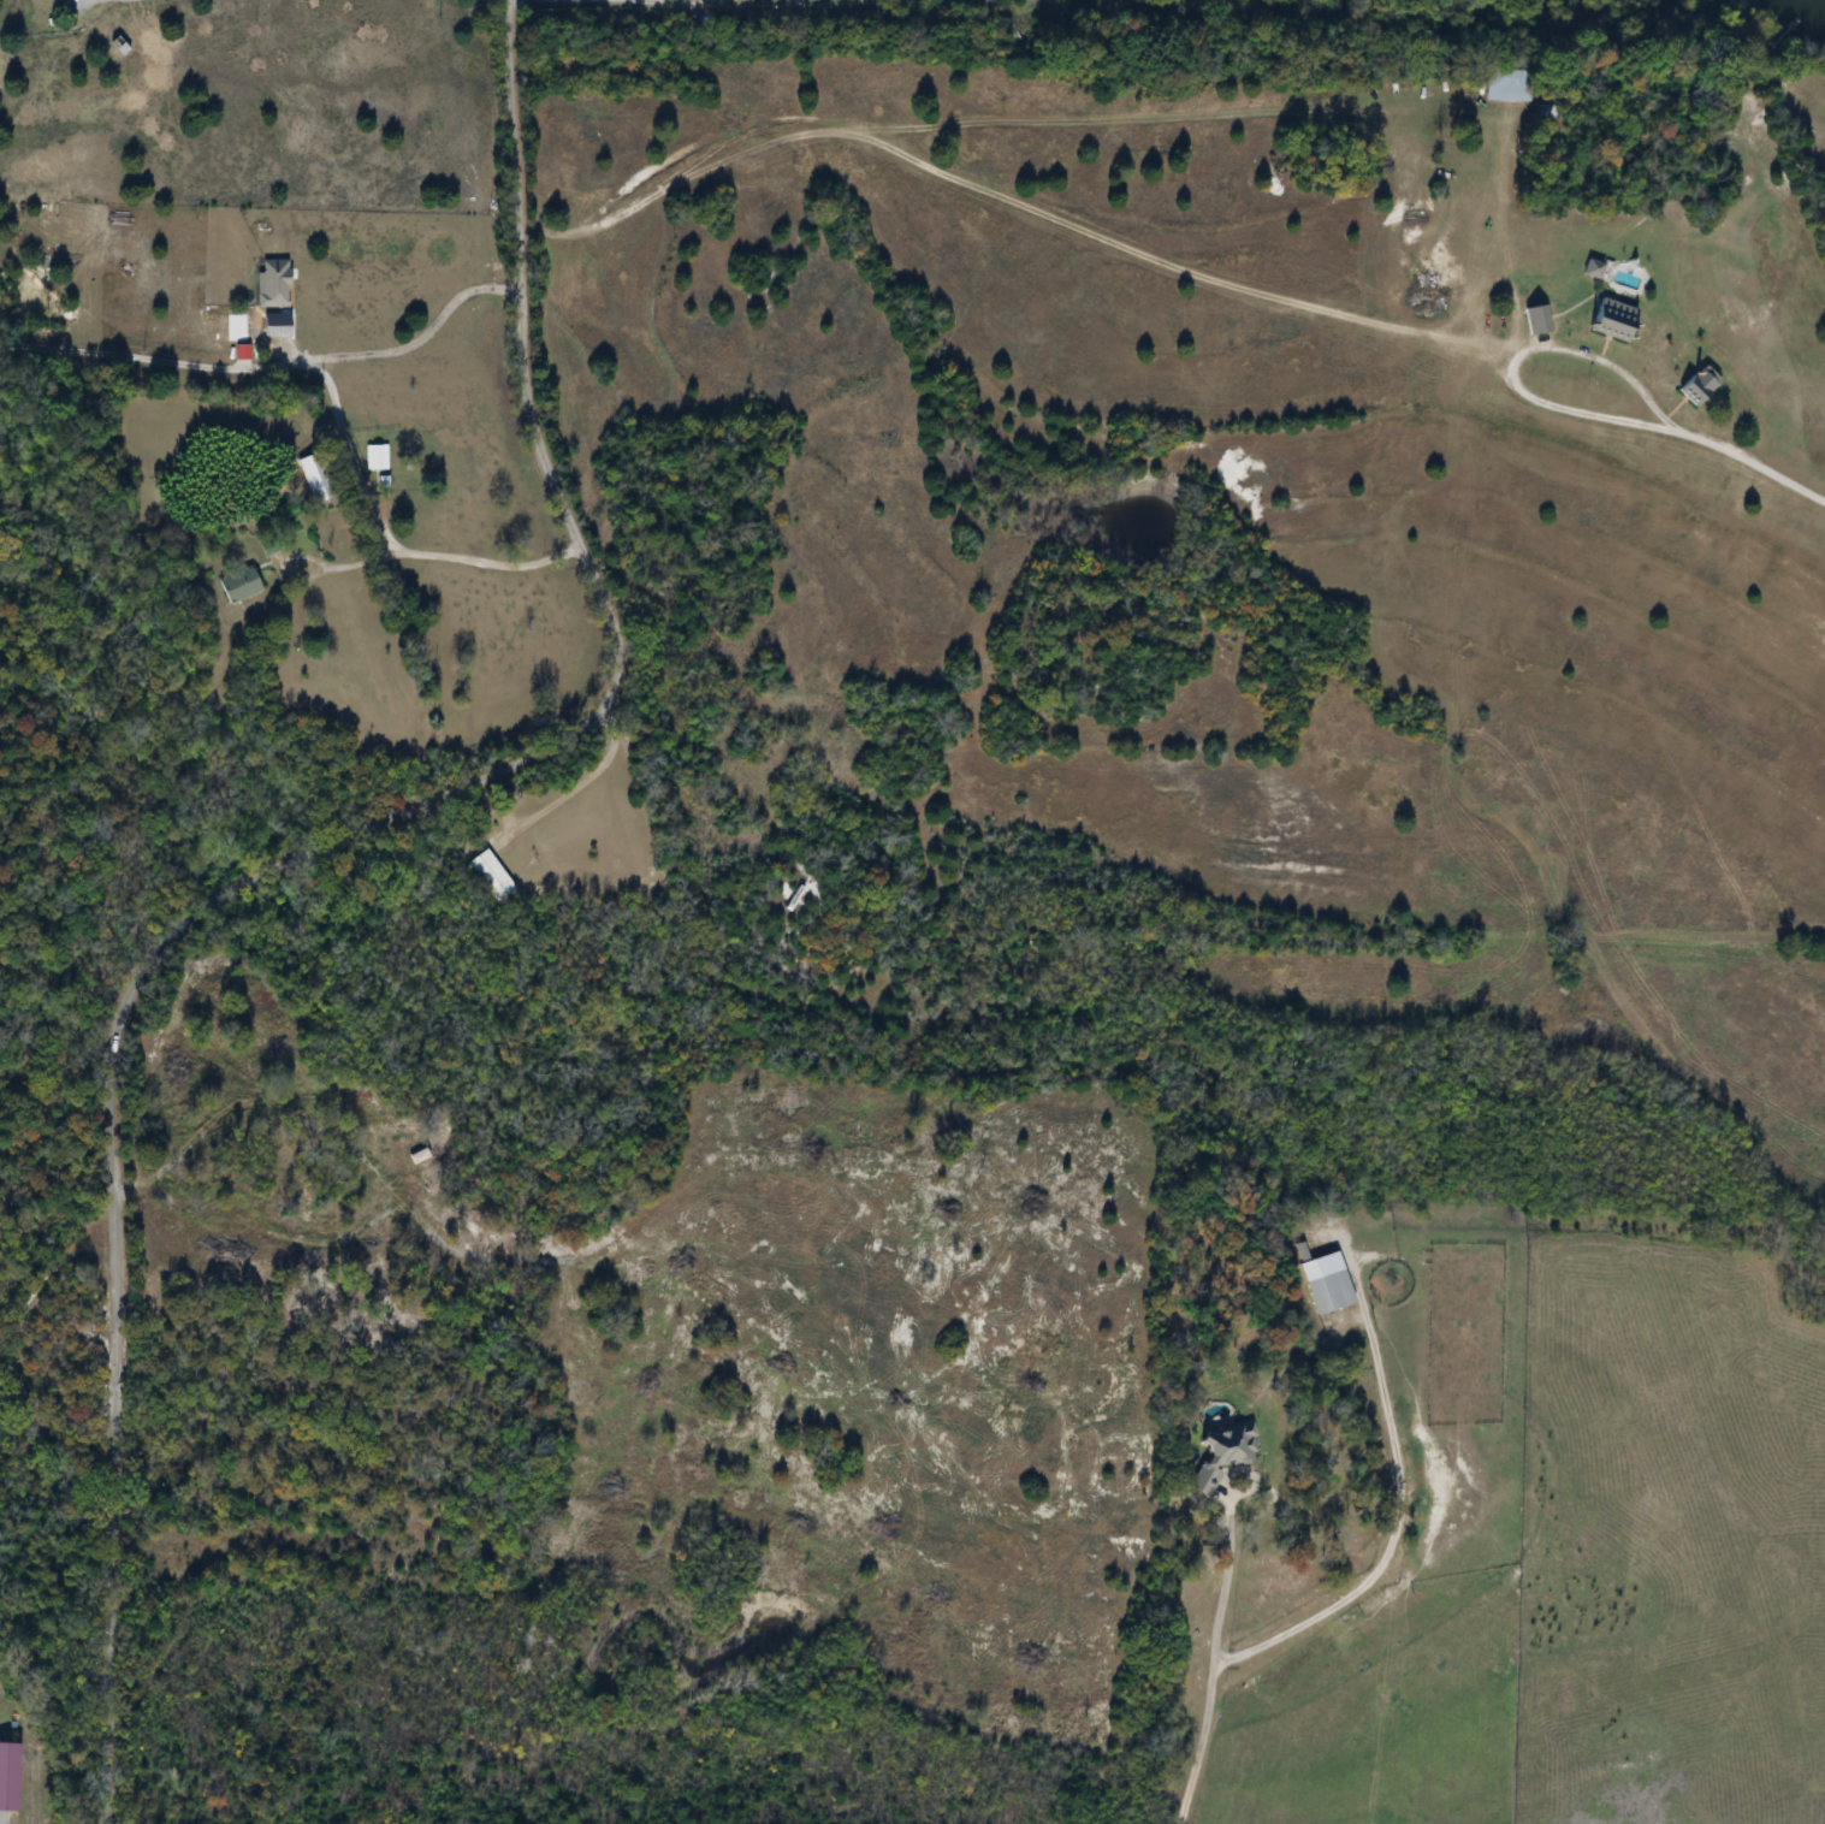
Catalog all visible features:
road: (676, 4)
building: (1507, 88)
road: (1291, 111)
road: (1011, 199)
road: (1477, 282)
road: (1456, 318)
building: (1534, 319)
building: (243, 324)
road: (419, 334)
road: (1517, 360)
building: (1694, 384)
road: (333, 397)
building: (378, 458)
road: (1754, 461)
building: (319, 479)
building: (242, 586)
road: (567, 781)
road: (300, 843)
building: (492, 876)
building: (420, 1156)
building: (1334, 1292)
building: (1227, 1455)
road: (1388, 1535)
road: (1210, 1674)
building: (12, 1777)

